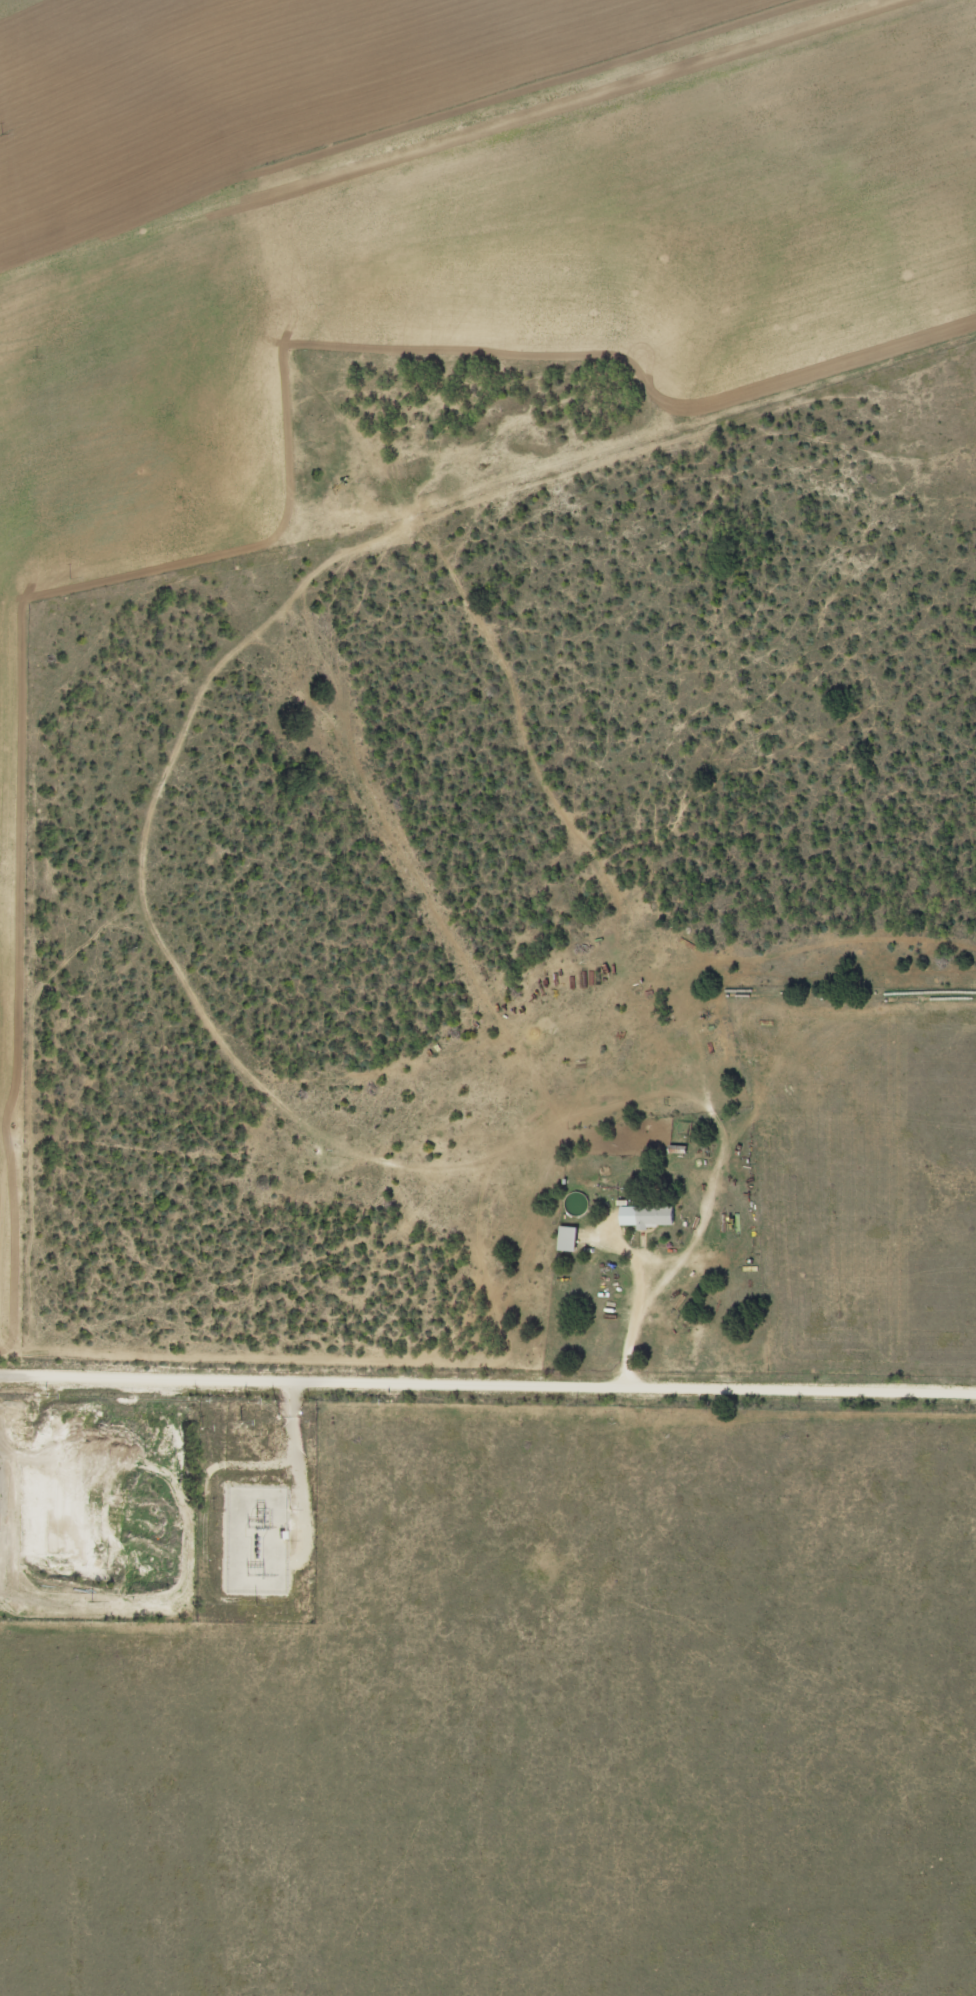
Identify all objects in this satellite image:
railway: (429, 124)
building: (651, 1215)
building: (572, 1238)
road: (488, 1396)
power substation: (257, 1540)

